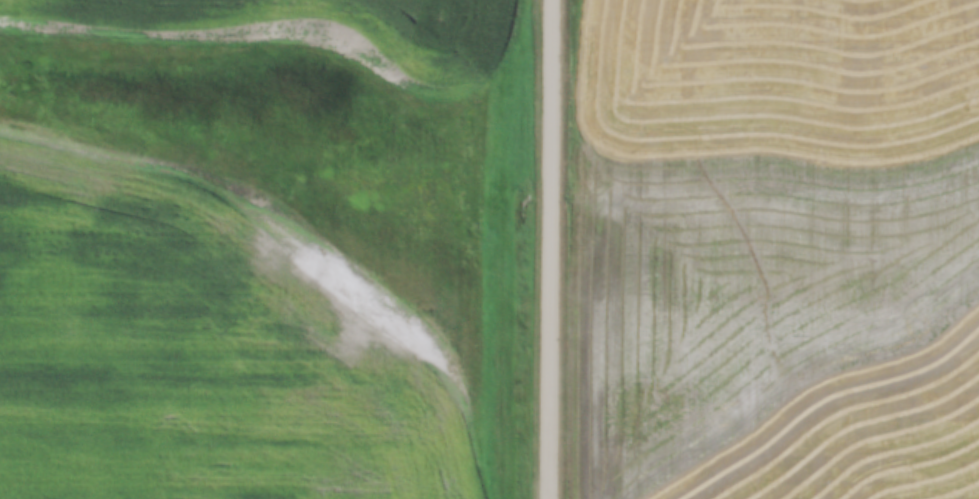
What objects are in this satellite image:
road: (551, 249)

